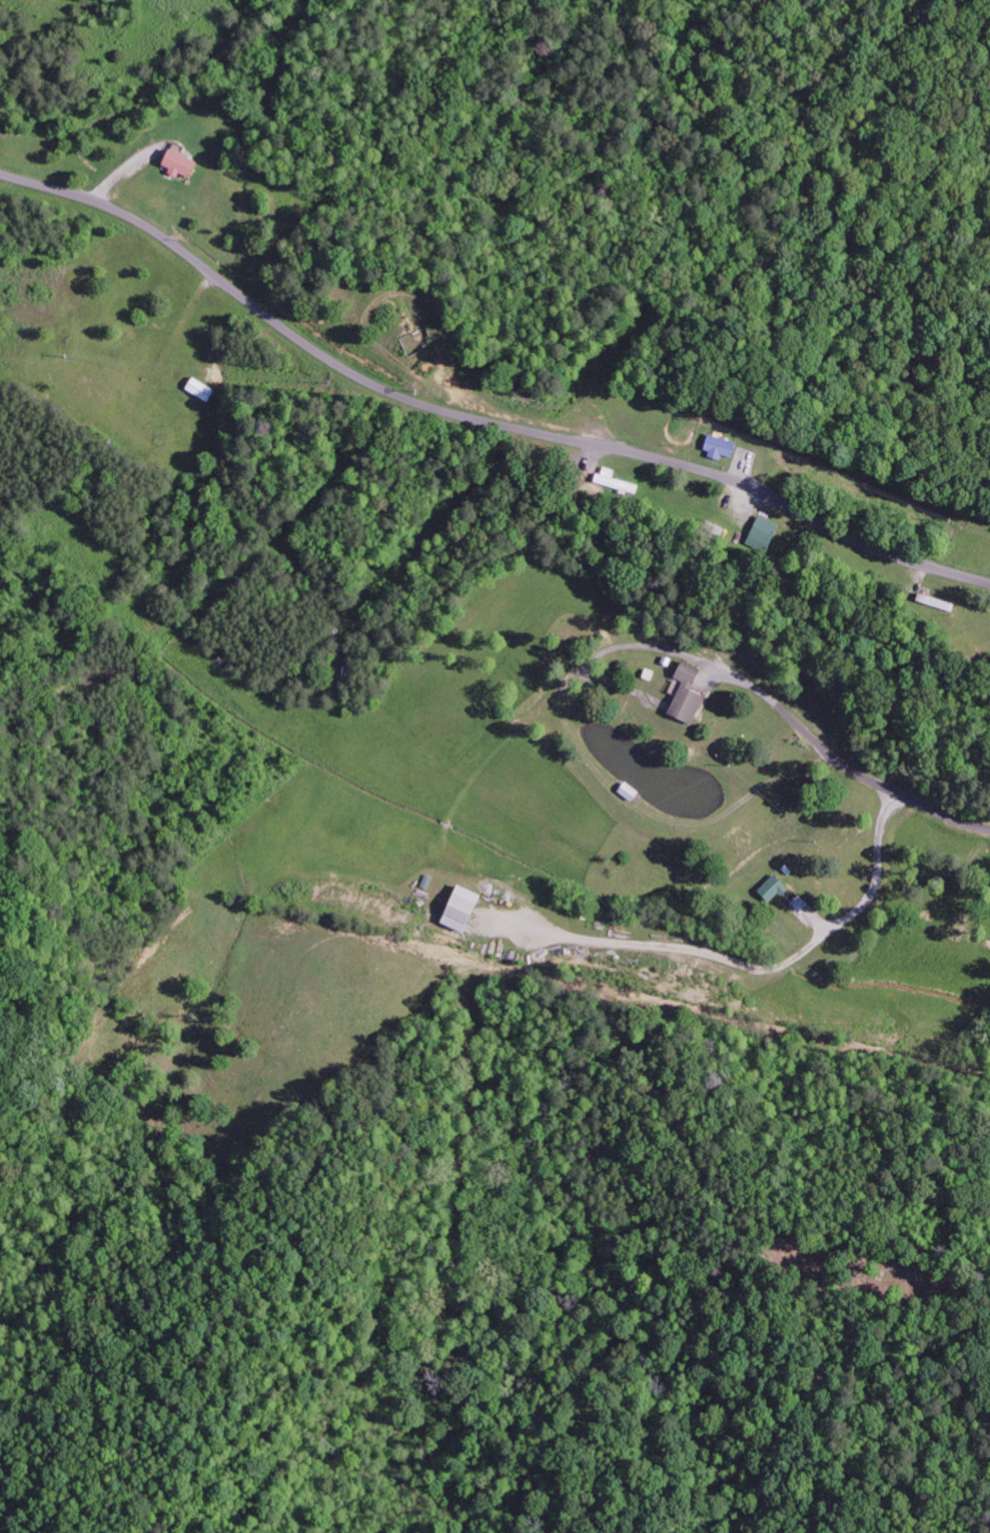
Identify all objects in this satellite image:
building: (176, 164)
road: (476, 420)
building: (717, 448)
building: (612, 482)
building: (760, 534)
building: (683, 693)
road: (899, 796)
building: (769, 888)
building: (455, 907)

